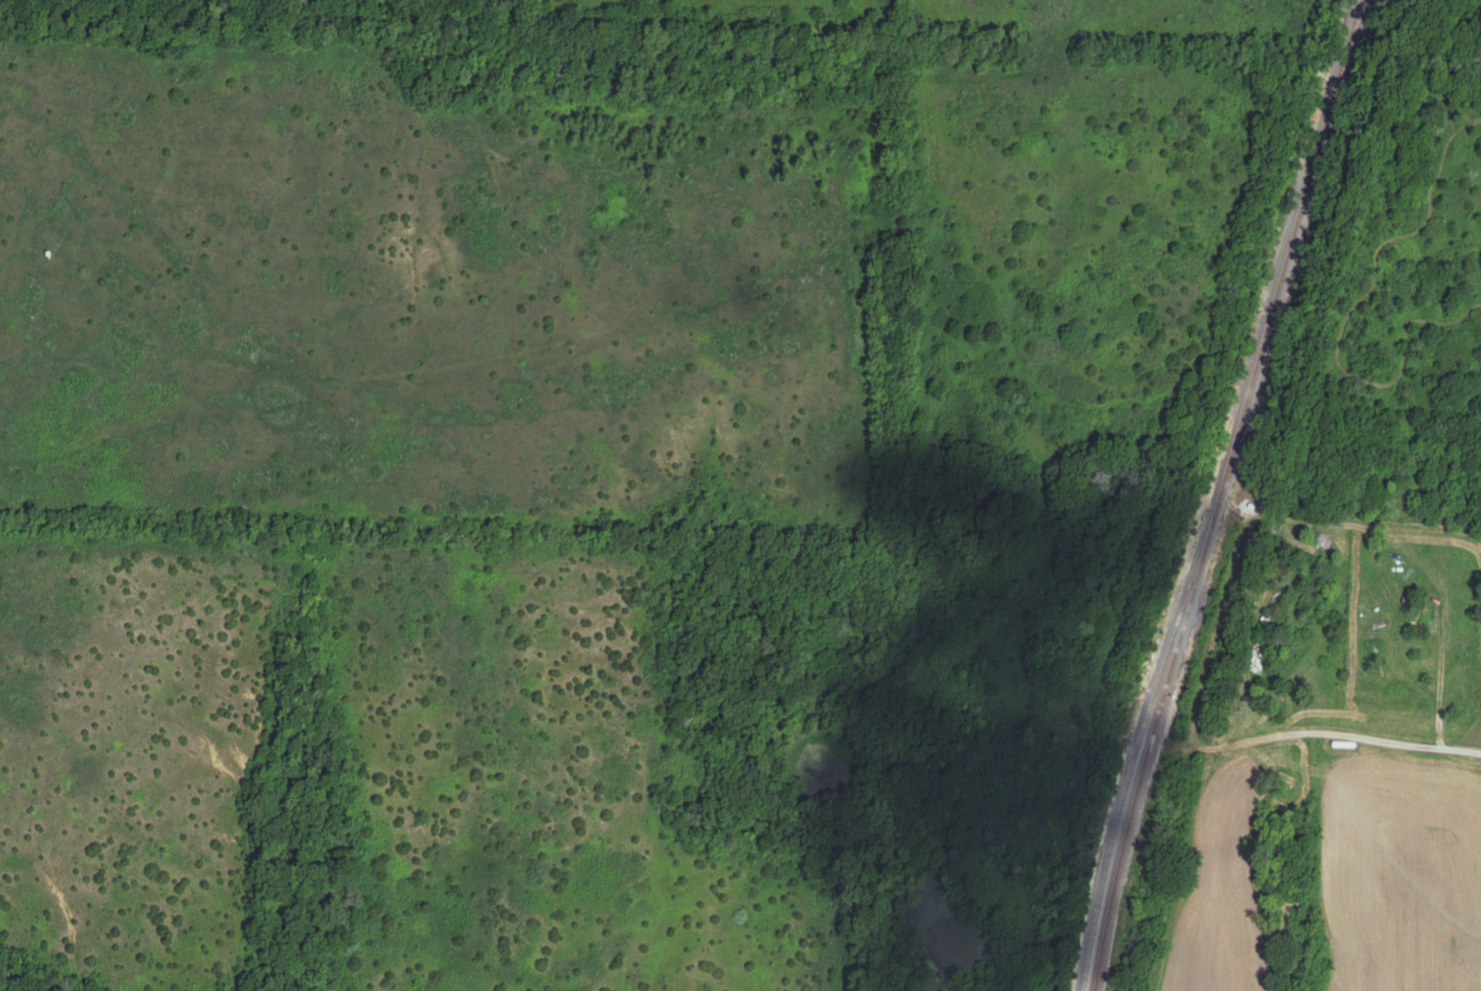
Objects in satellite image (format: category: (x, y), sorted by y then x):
railway: (1217, 493)
road: (1381, 741)
railway: (1131, 757)

